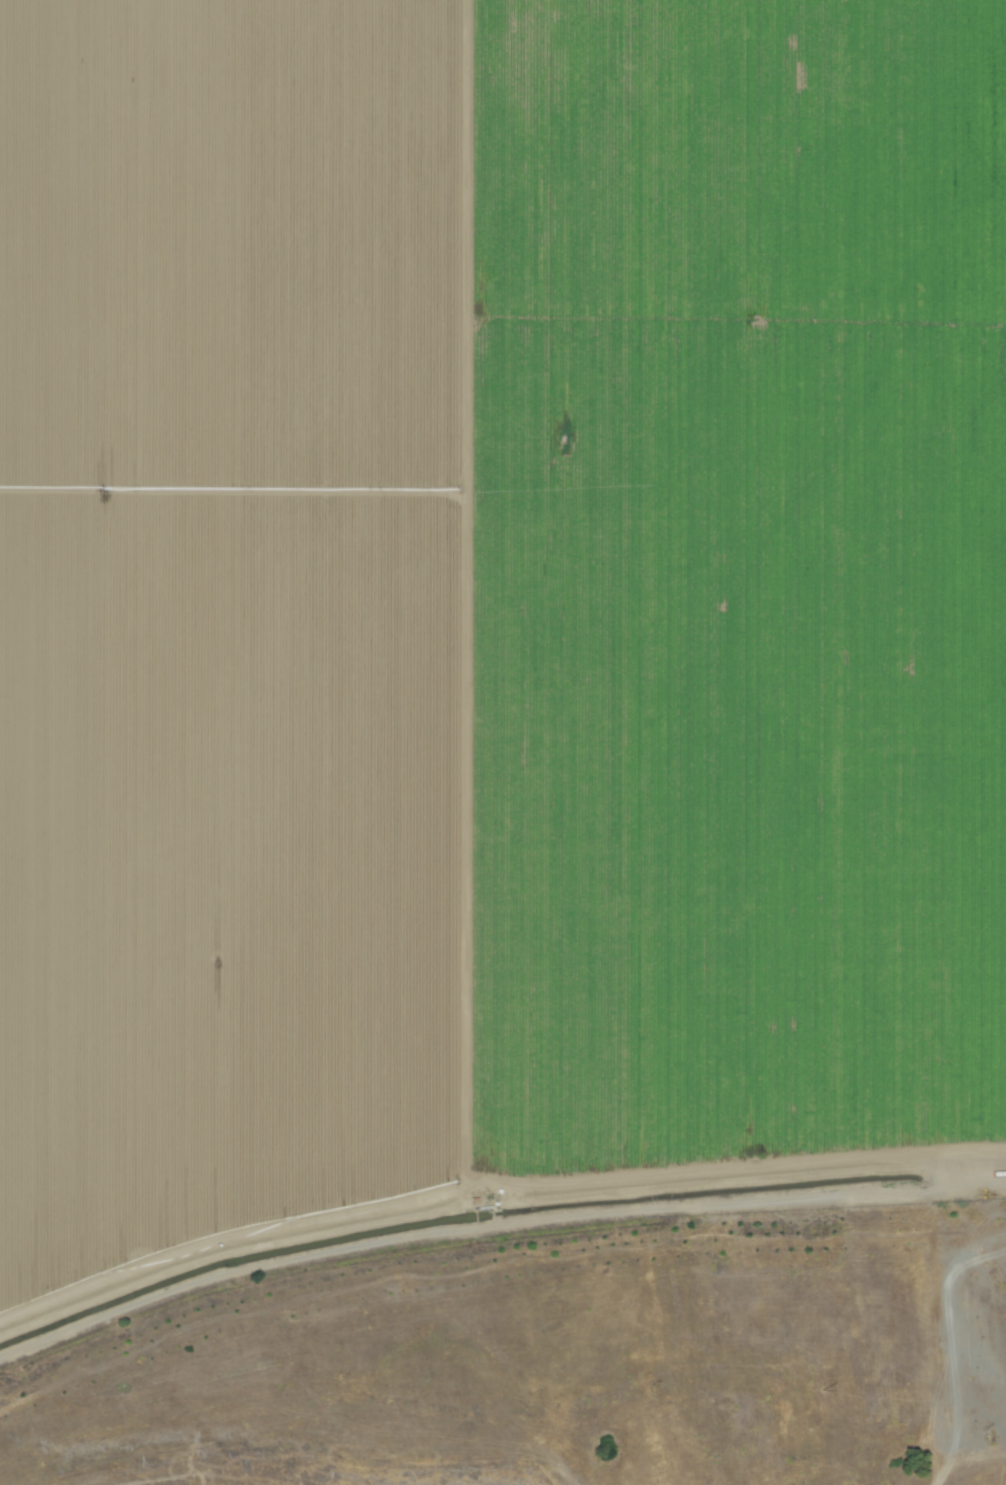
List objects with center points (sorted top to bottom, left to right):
road: (493, 1187)

